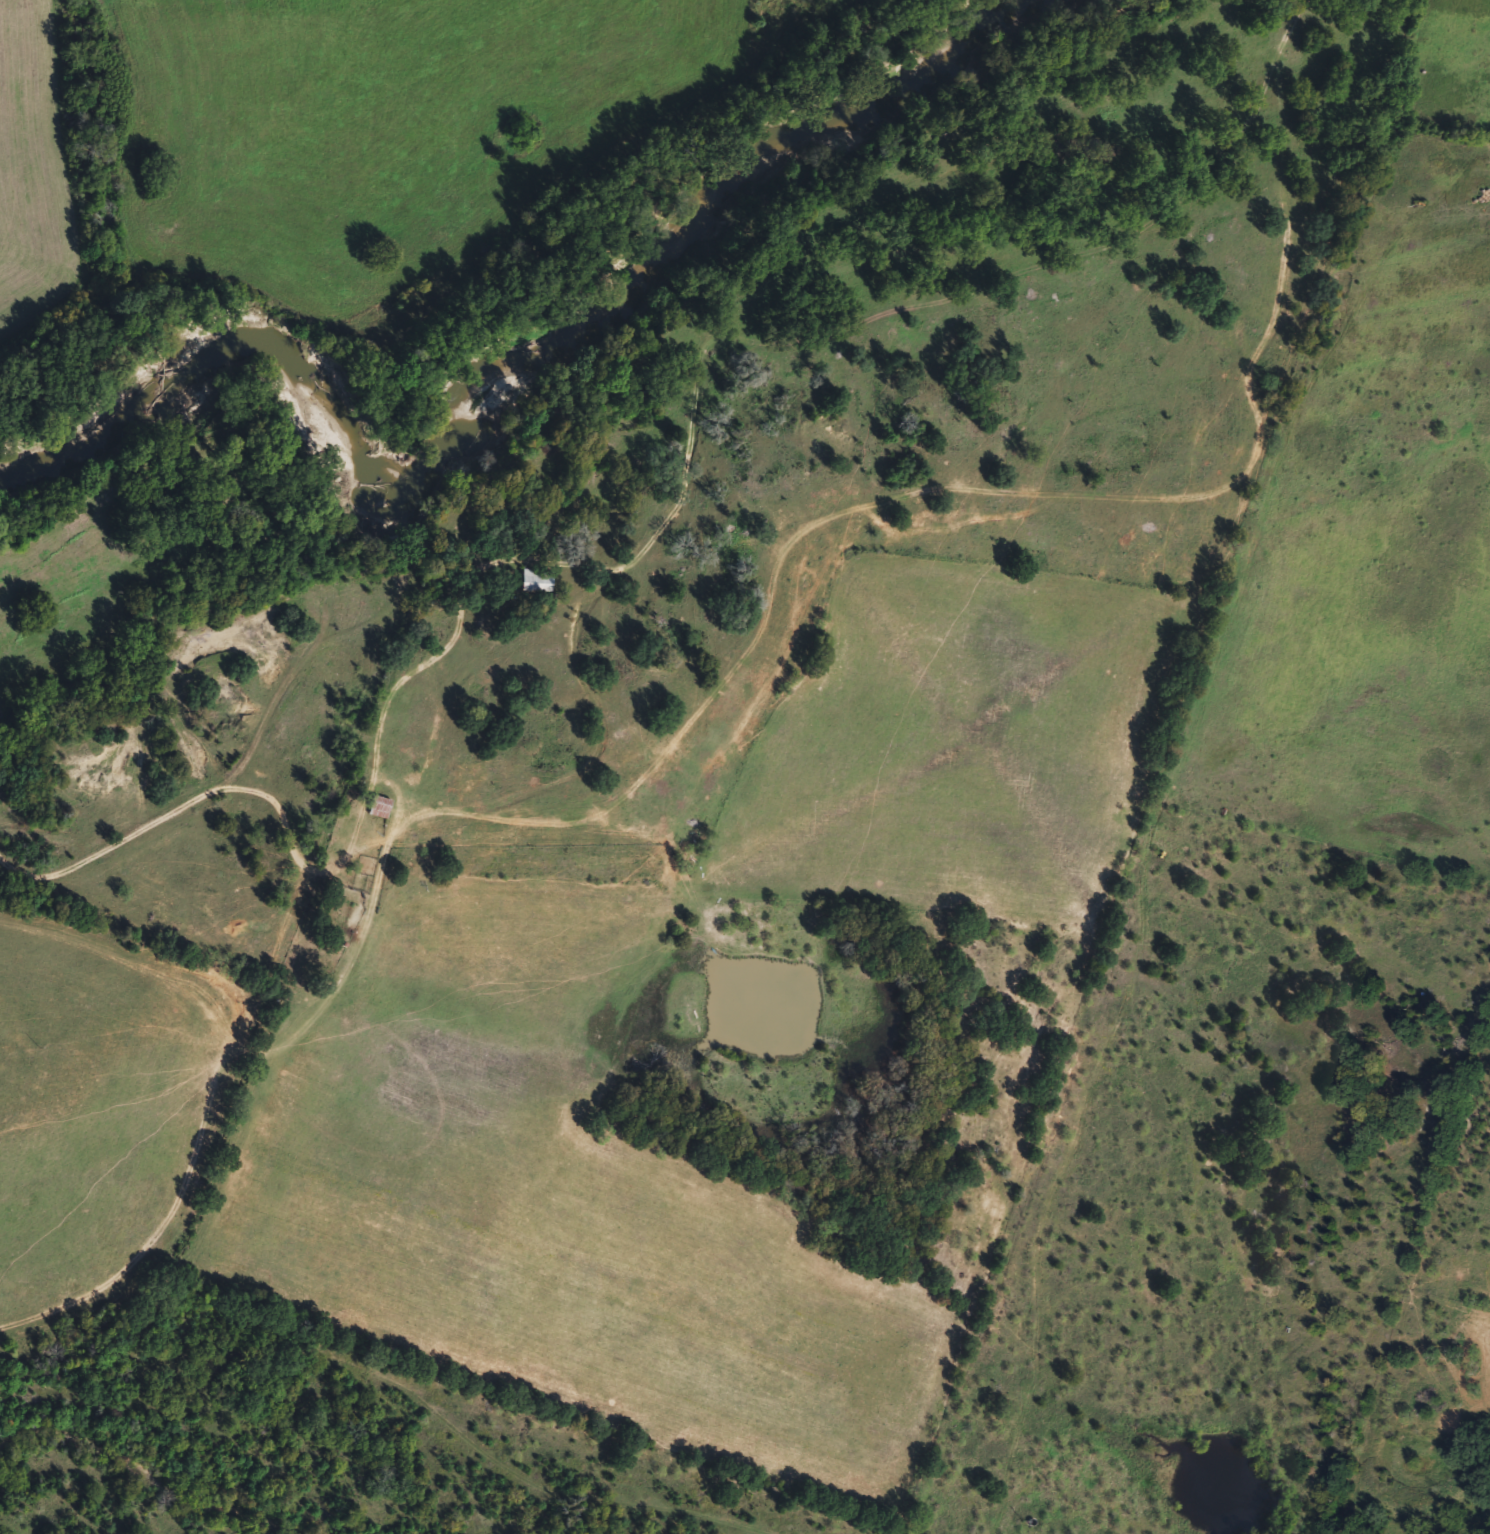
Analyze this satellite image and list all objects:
river: (477, 387)
building: (539, 581)
building: (382, 808)
building: (696, 834)
building: (318, 961)

